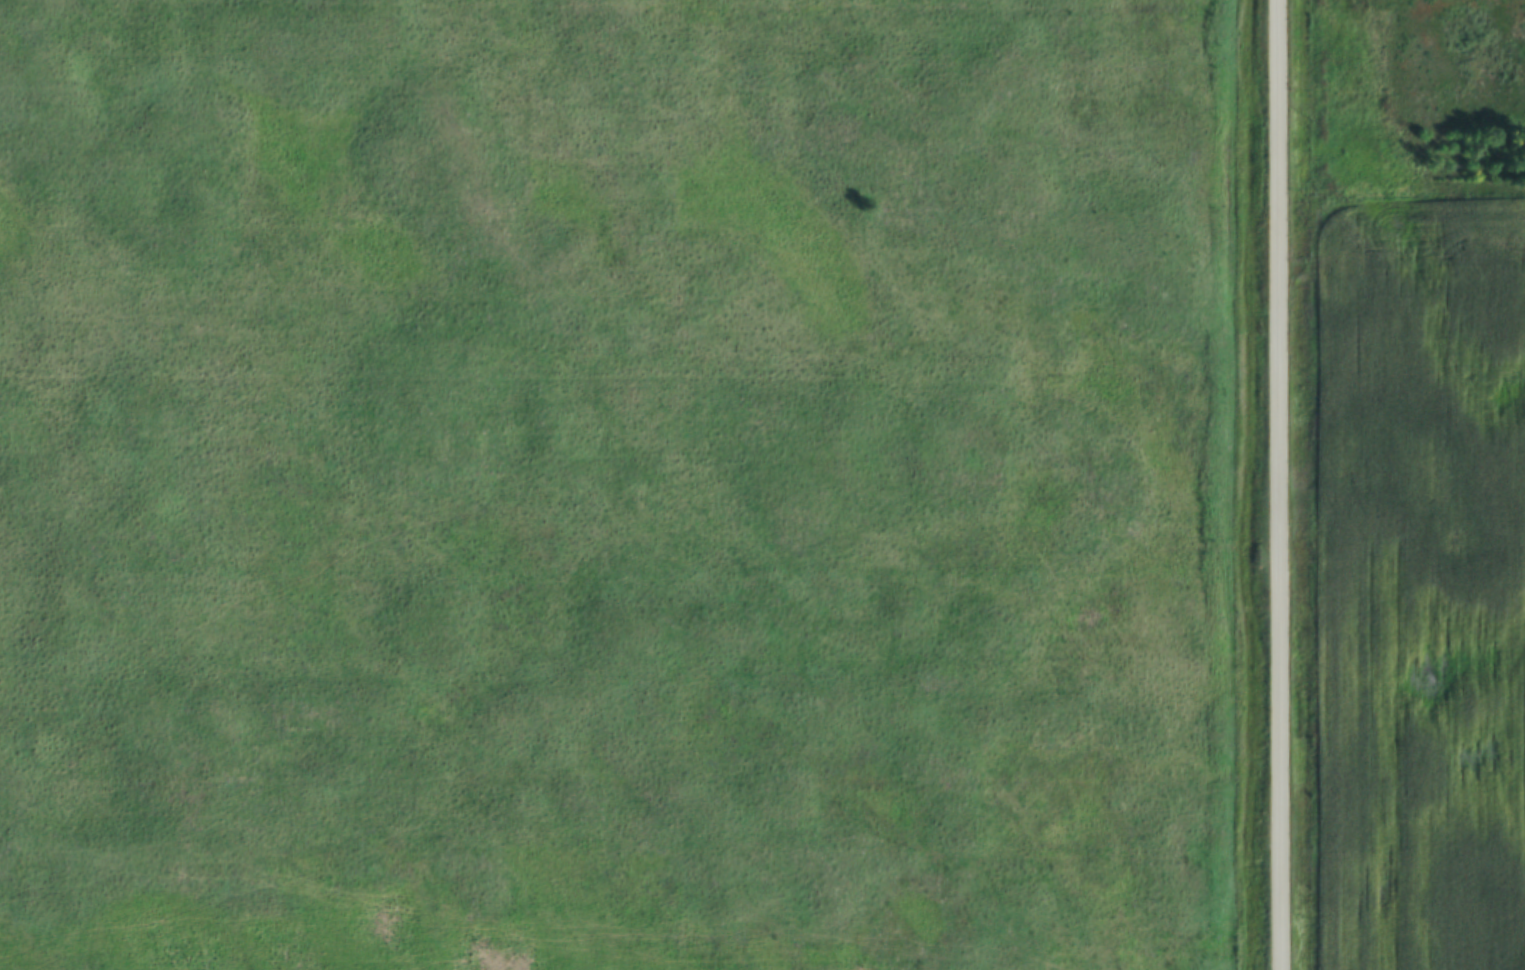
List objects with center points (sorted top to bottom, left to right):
road: (1281, 485)

